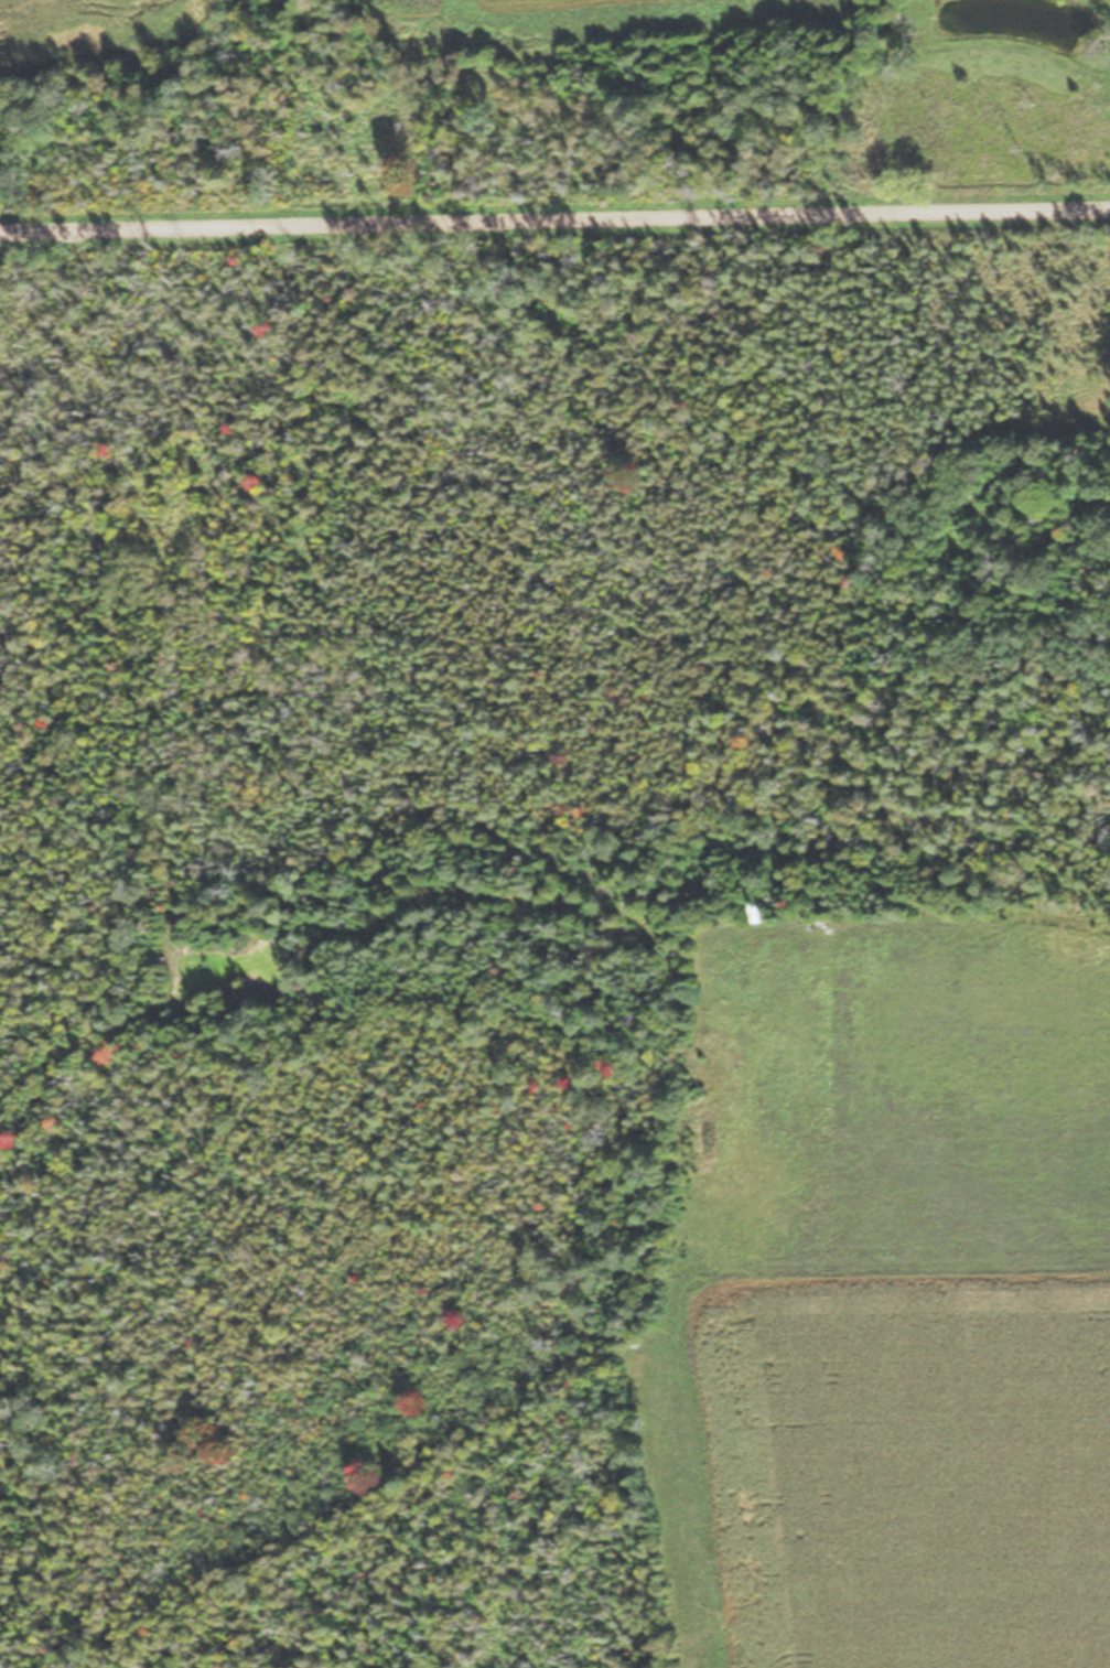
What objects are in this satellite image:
road: (421, 111)
road: (554, 220)
building: (756, 912)

